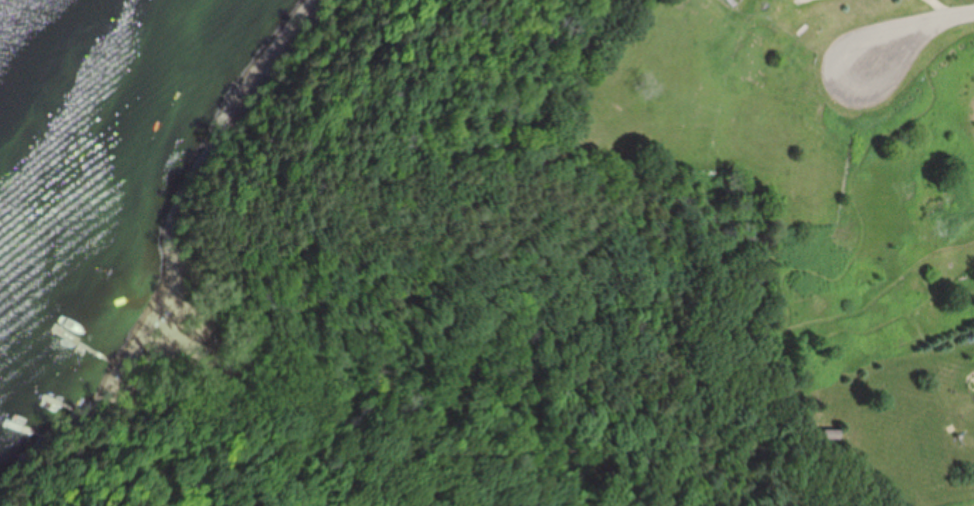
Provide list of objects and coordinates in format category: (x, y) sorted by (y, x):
road: (944, 10)
road: (922, 37)
park: (426, 340)

